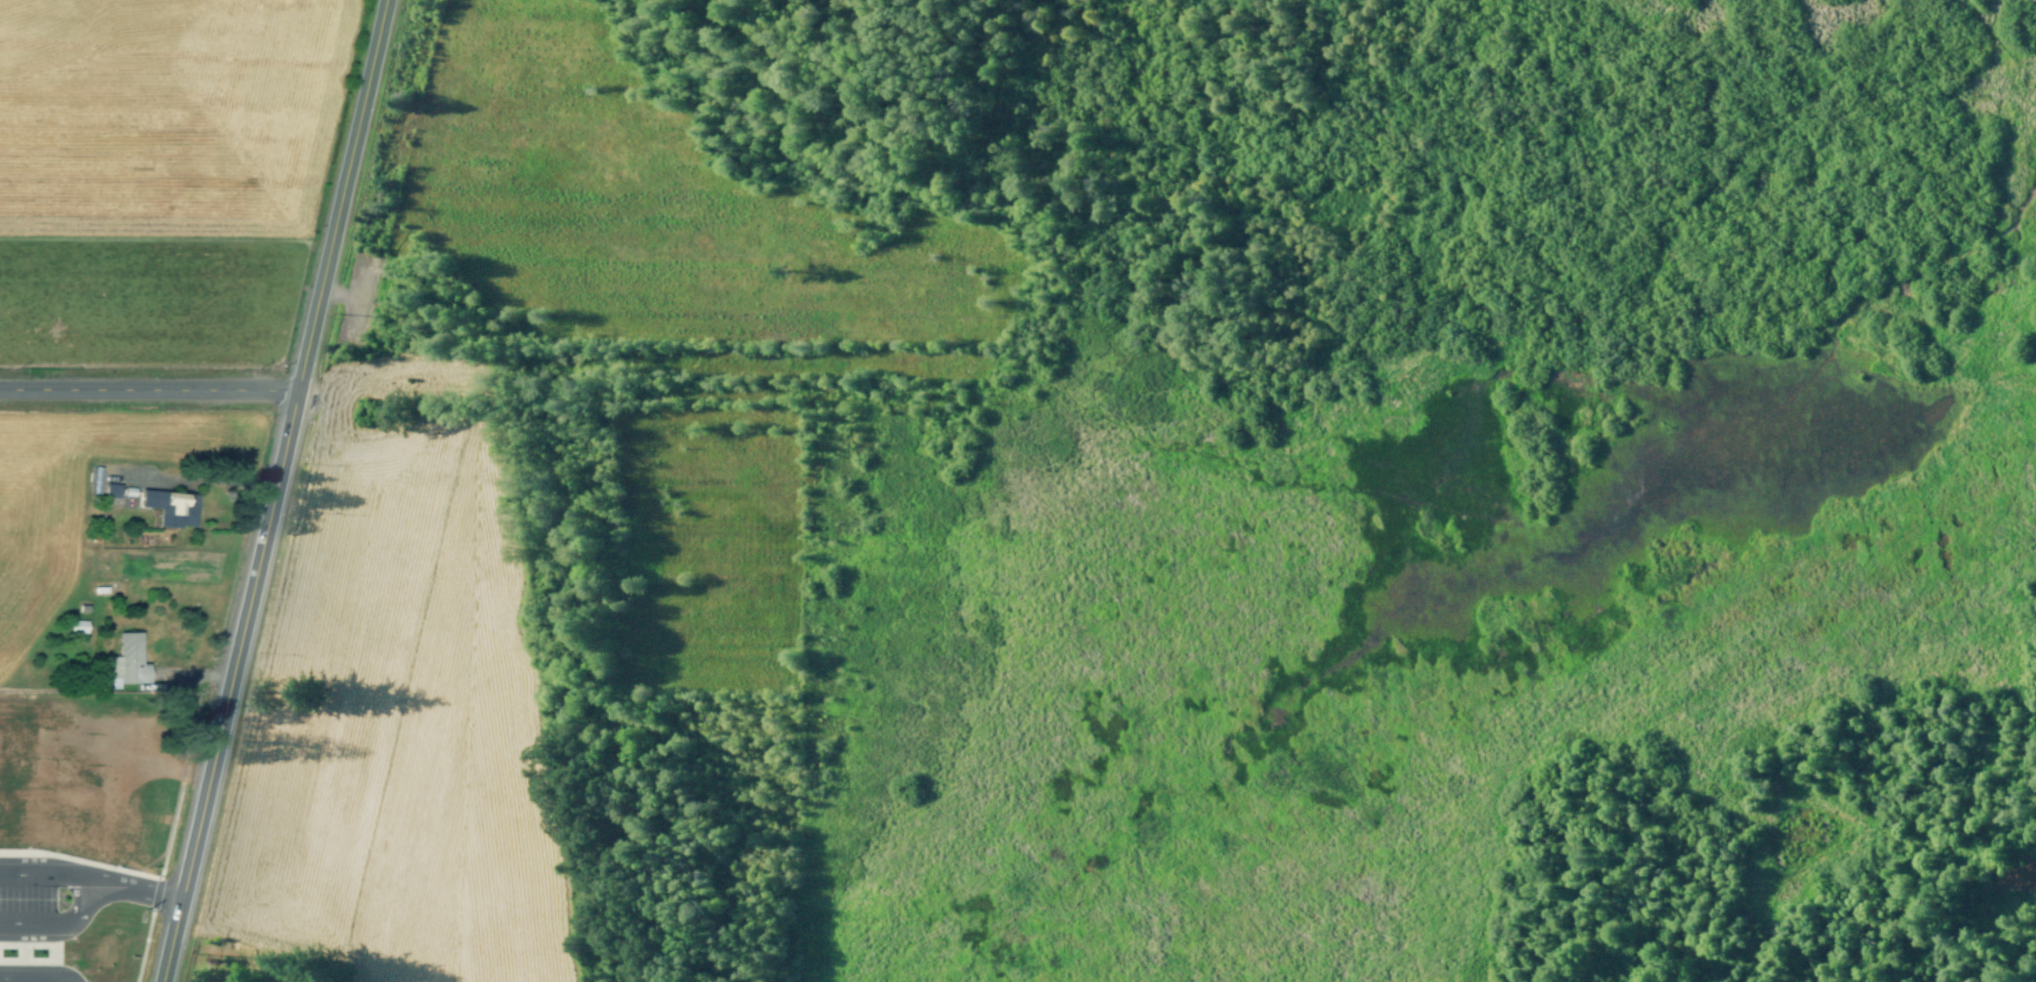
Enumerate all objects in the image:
crop: (171, 176)
road: (909, 336)
road: (147, 388)
road: (2004, 454)
building: (110, 489)
road: (271, 491)
building: (171, 506)
crop: (39, 540)
building: (77, 625)
building: (131, 658)
road: (49, 689)
crop: (394, 717)
road: (17, 719)
parking lot: (98, 750)
building: (1, 754)
road: (101, 816)
road: (122, 821)
building: (57, 823)
road: (10, 834)
road: (50, 875)
road: (60, 886)
road: (11, 927)
parking lot: (16, 940)
road: (151, 952)
road: (72, 959)
road: (53, 966)
road: (7, 972)

